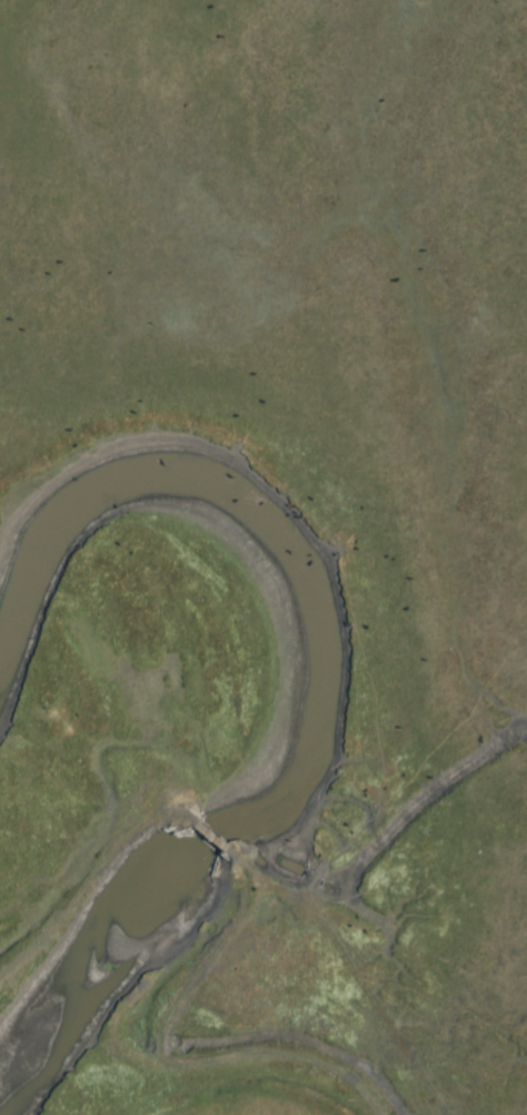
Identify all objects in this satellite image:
river: (306, 699)

